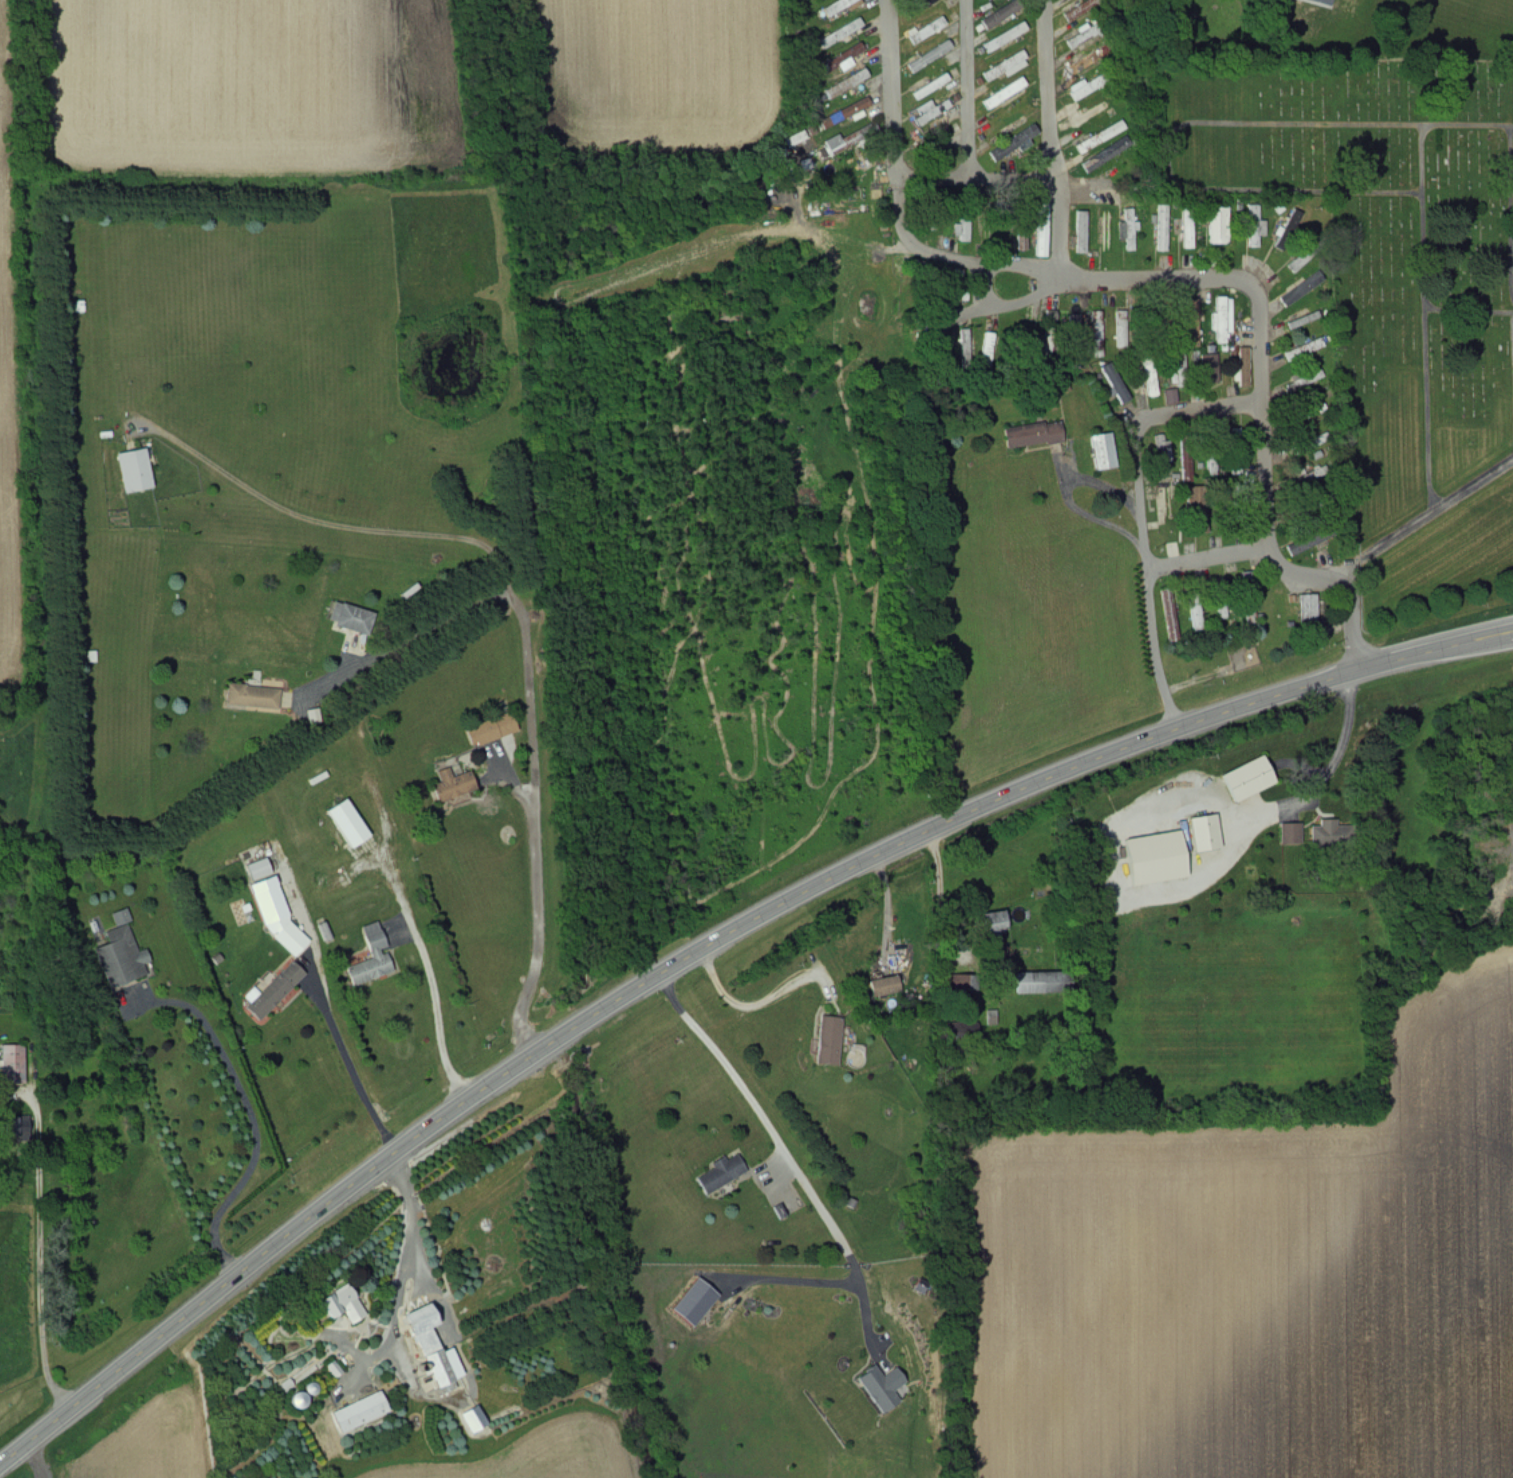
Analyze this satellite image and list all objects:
building: (839, 4)
building: (918, 6)
building: (1000, 14)
building: (853, 26)
building: (926, 30)
building: (1004, 36)
building: (1101, 52)
building: (838, 61)
building: (1004, 66)
building: (1073, 69)
building: (845, 84)
building: (1087, 85)
building: (930, 86)
road: (893, 89)
road: (968, 90)
building: (1003, 92)
building: (927, 111)
building: (844, 112)
building: (982, 118)
building: (1004, 122)
building: (1099, 136)
building: (854, 140)
road: (1046, 141)
building: (1013, 143)
building: (1101, 156)
road: (978, 180)
building: (1042, 224)
building: (1218, 225)
building: (1253, 226)
building: (1187, 228)
building: (1105, 229)
building: (962, 230)
building: (1128, 230)
building: (1080, 232)
park: (1381, 253)
building: (1209, 260)
building: (1300, 260)
road: (1069, 281)
building: (1303, 287)
building: (1222, 320)
building: (987, 347)
building: (1244, 366)
building: (1180, 372)
building: (1210, 375)
building: (1305, 380)
building: (1150, 382)
building: (1119, 389)
building: (1170, 395)
road: (1200, 414)
building: (1032, 434)
building: (1162, 449)
building: (1103, 451)
building: (1185, 458)
building: (1211, 462)
road: (1265, 464)
building: (134, 470)
building: (1162, 500)
road: (304, 517)
road: (1390, 542)
building: (1301, 544)
road: (1209, 561)
road: (1149, 576)
building: (1249, 598)
building: (1222, 610)
building: (1308, 612)
building: (1195, 613)
building: (1170, 615)
building: (349, 619)
road: (406, 641)
building: (251, 696)
building: (488, 730)
road: (1338, 753)
building: (1247, 779)
building: (451, 785)
road: (533, 800)
building: (347, 823)
building: (1204, 833)
building: (1290, 834)
road: (893, 906)
building: (277, 916)
building: (993, 926)
road: (702, 946)
building: (120, 954)
building: (371, 961)
road: (421, 961)
building: (883, 986)
building: (274, 990)
road: (745, 1004)
road: (333, 1009)
building: (828, 1041)
building: (12, 1065)
road: (725, 1065)
road: (258, 1117)
building: (19, 1128)
building: (722, 1174)
road: (416, 1246)
road: (51, 1248)
building: (343, 1305)
building: (429, 1346)
building: (359, 1412)
building: (473, 1420)

